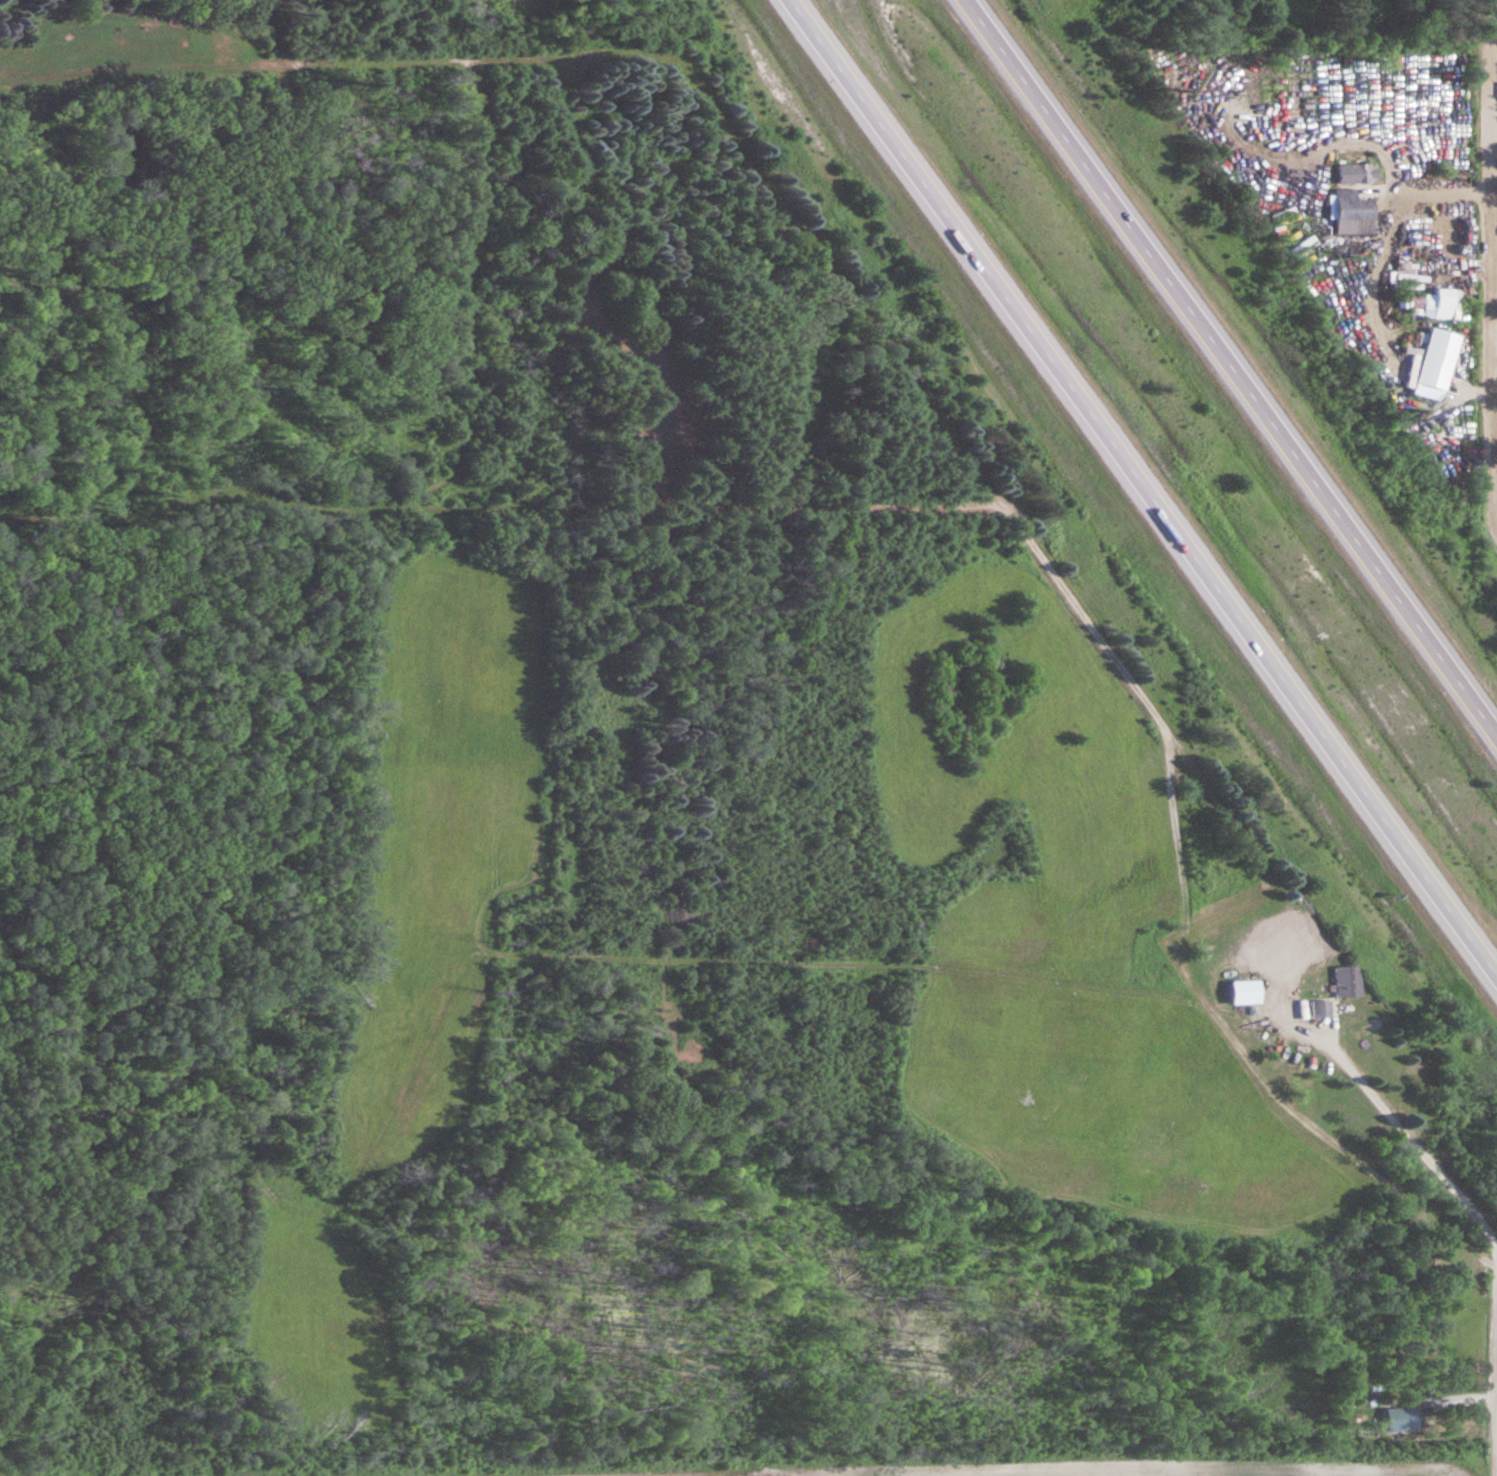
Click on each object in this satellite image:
building: (1357, 172)
building: (1354, 209)
road: (1491, 237)
building: (1433, 303)
building: (665, 338)
building: (1391, 356)
road: (1230, 366)
building: (1451, 371)
building: (1447, 437)
building: (1452, 461)
road: (1146, 484)
building: (1348, 981)
building: (1247, 991)
building: (1322, 1008)
building: (1402, 1417)

